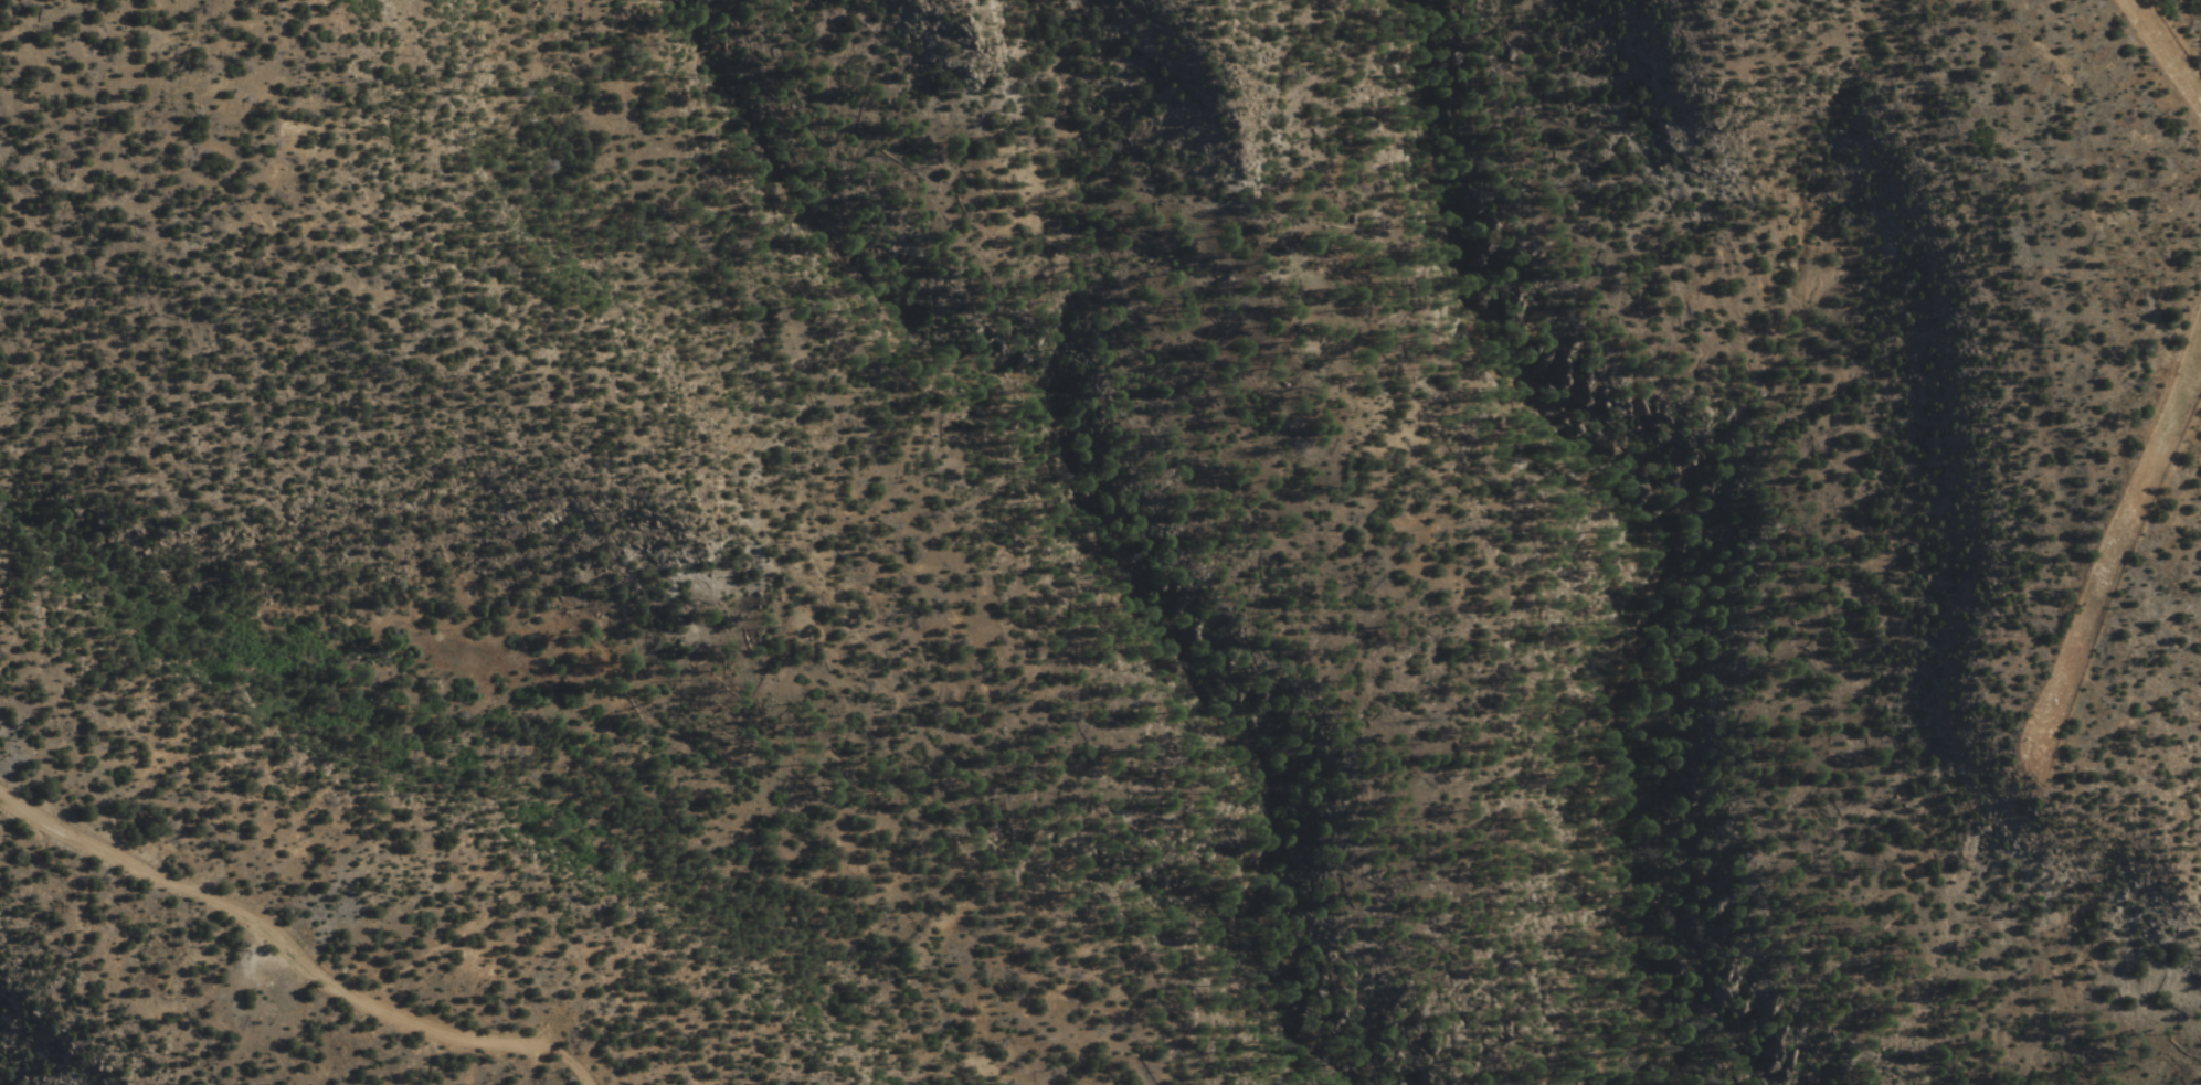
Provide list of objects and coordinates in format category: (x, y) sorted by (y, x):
road: (2162, 47)
road: (2047, 714)
road: (292, 950)

